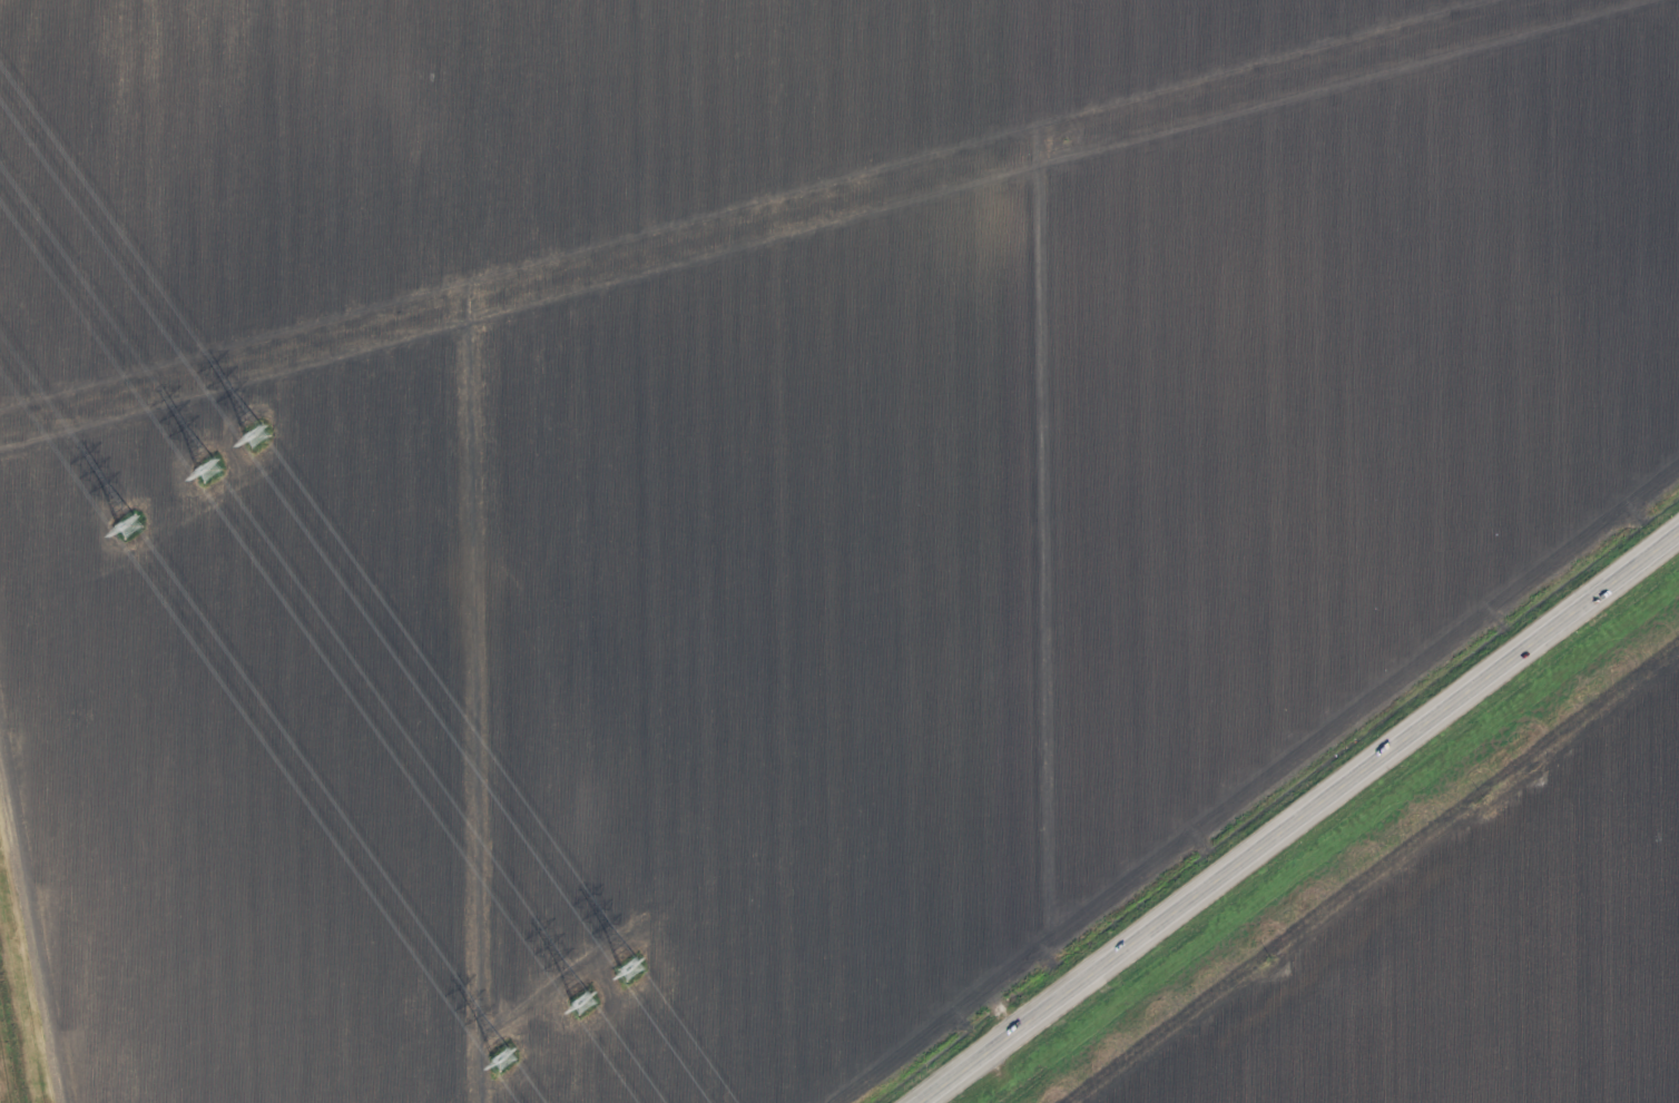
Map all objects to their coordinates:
power tower: (258, 437)
power tower: (210, 472)
power tower: (130, 529)
road: (1300, 818)
power tower: (634, 974)
power tower: (583, 1005)
power tower: (503, 1062)

